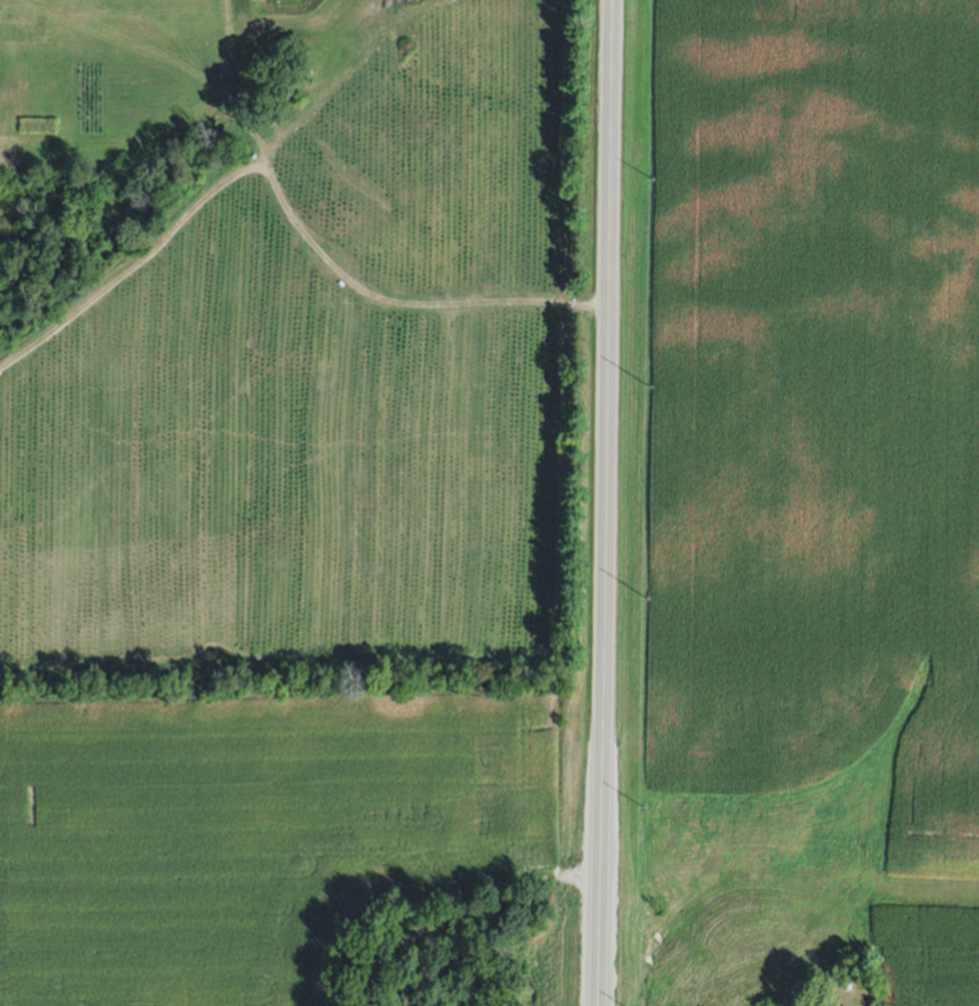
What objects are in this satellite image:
building: (16, 14)
road: (603, 502)
building: (846, 985)
road: (815, 1004)

